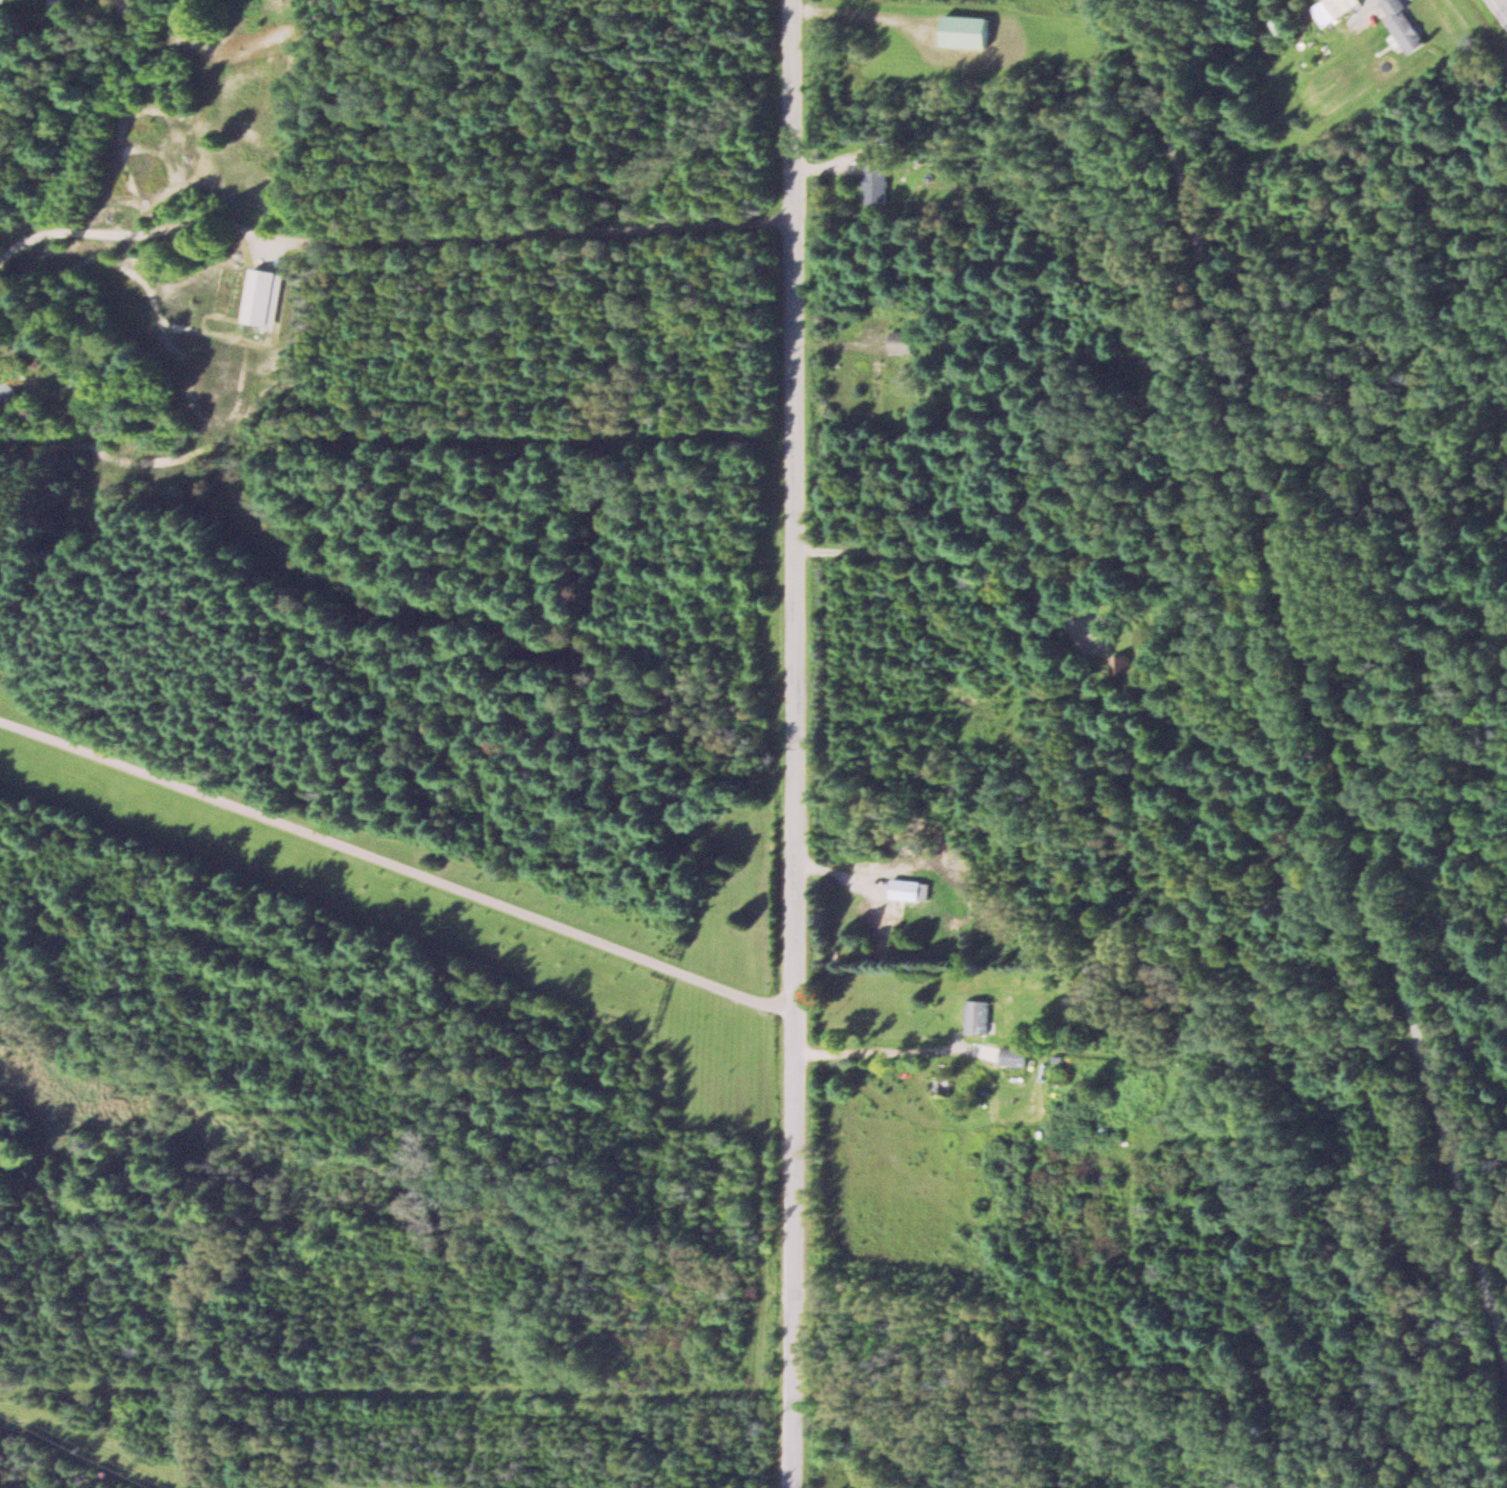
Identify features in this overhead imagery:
road: (1504, 3)
building: (1332, 9)
building: (1402, 25)
building: (966, 30)
building: (875, 183)
road: (392, 224)
building: (901, 342)
building: (6, 390)
road: (1322, 674)
road: (790, 744)
road: (394, 863)
road: (836, 872)
building: (902, 889)
building: (886, 927)
building: (975, 1016)
building: (1012, 1047)
building: (941, 1085)

